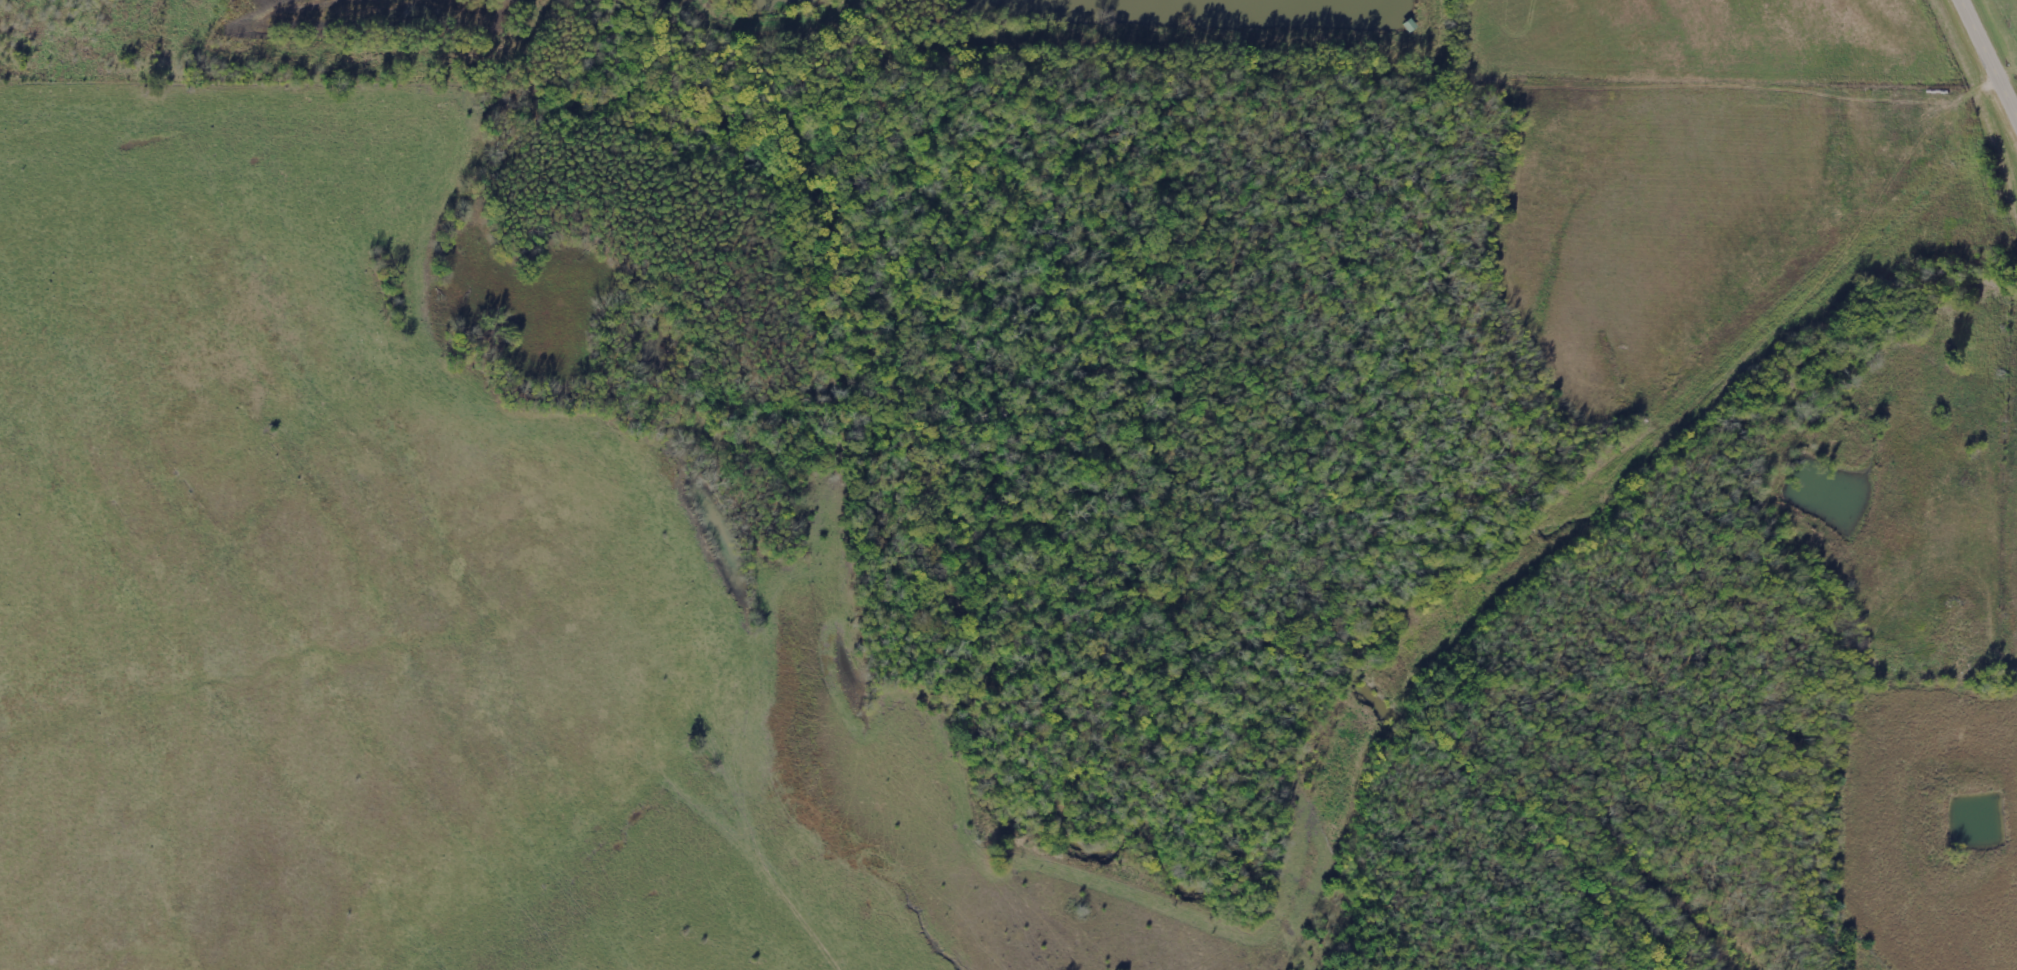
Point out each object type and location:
road: (1984, 64)

